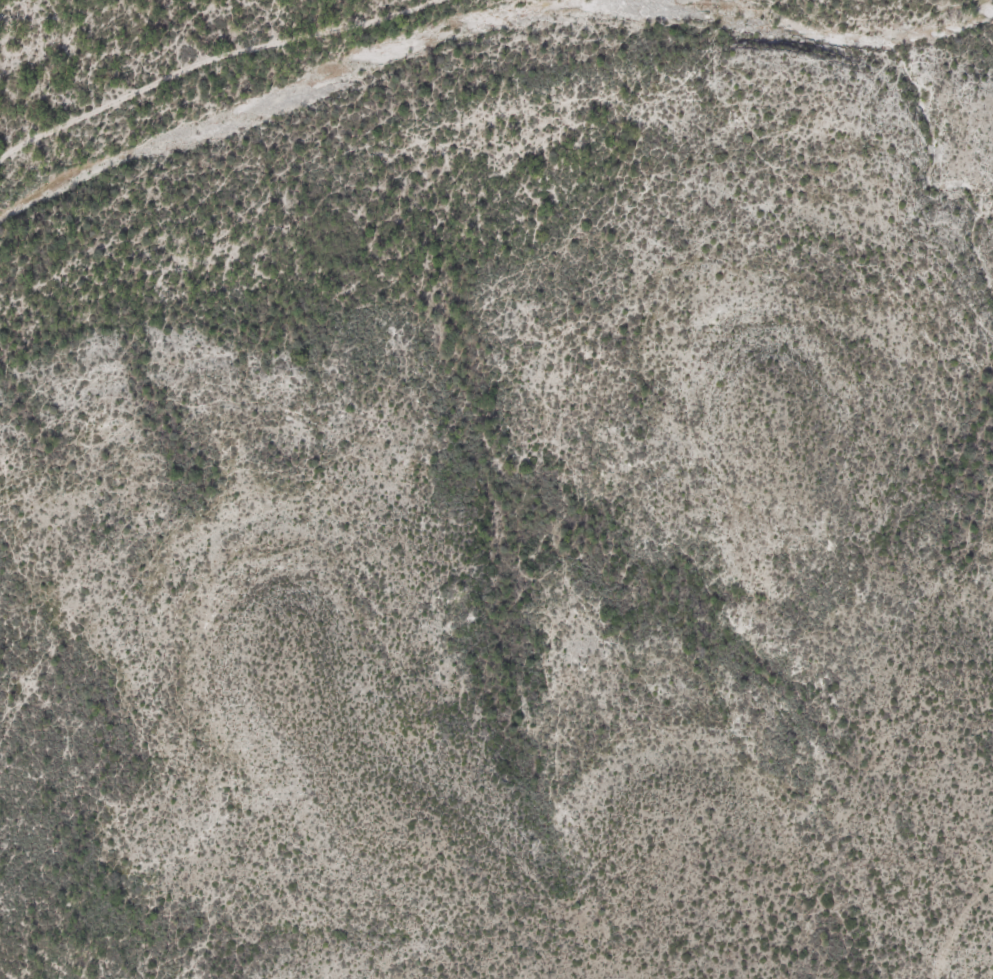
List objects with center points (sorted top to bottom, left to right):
road: (212, 60)

